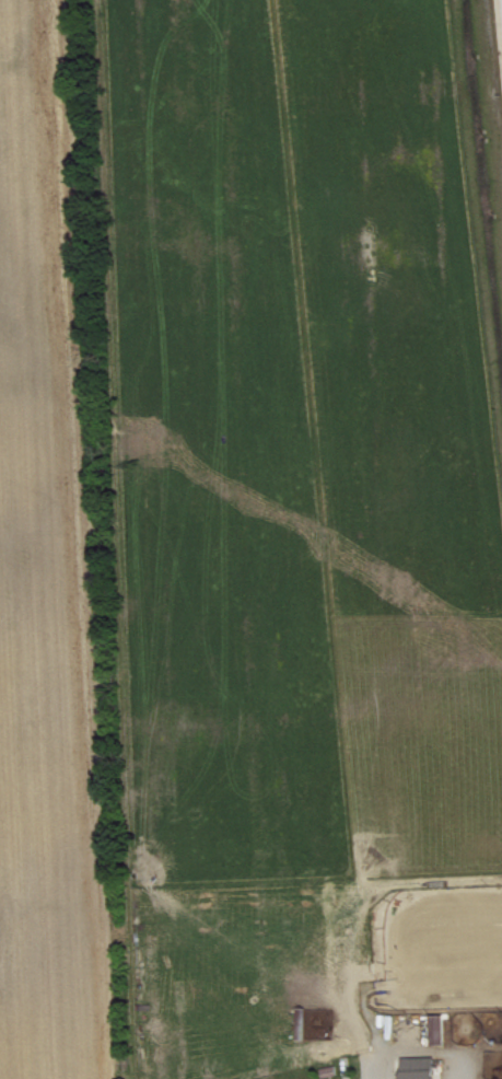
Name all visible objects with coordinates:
building: (443, 1037)
building: (424, 1071)

